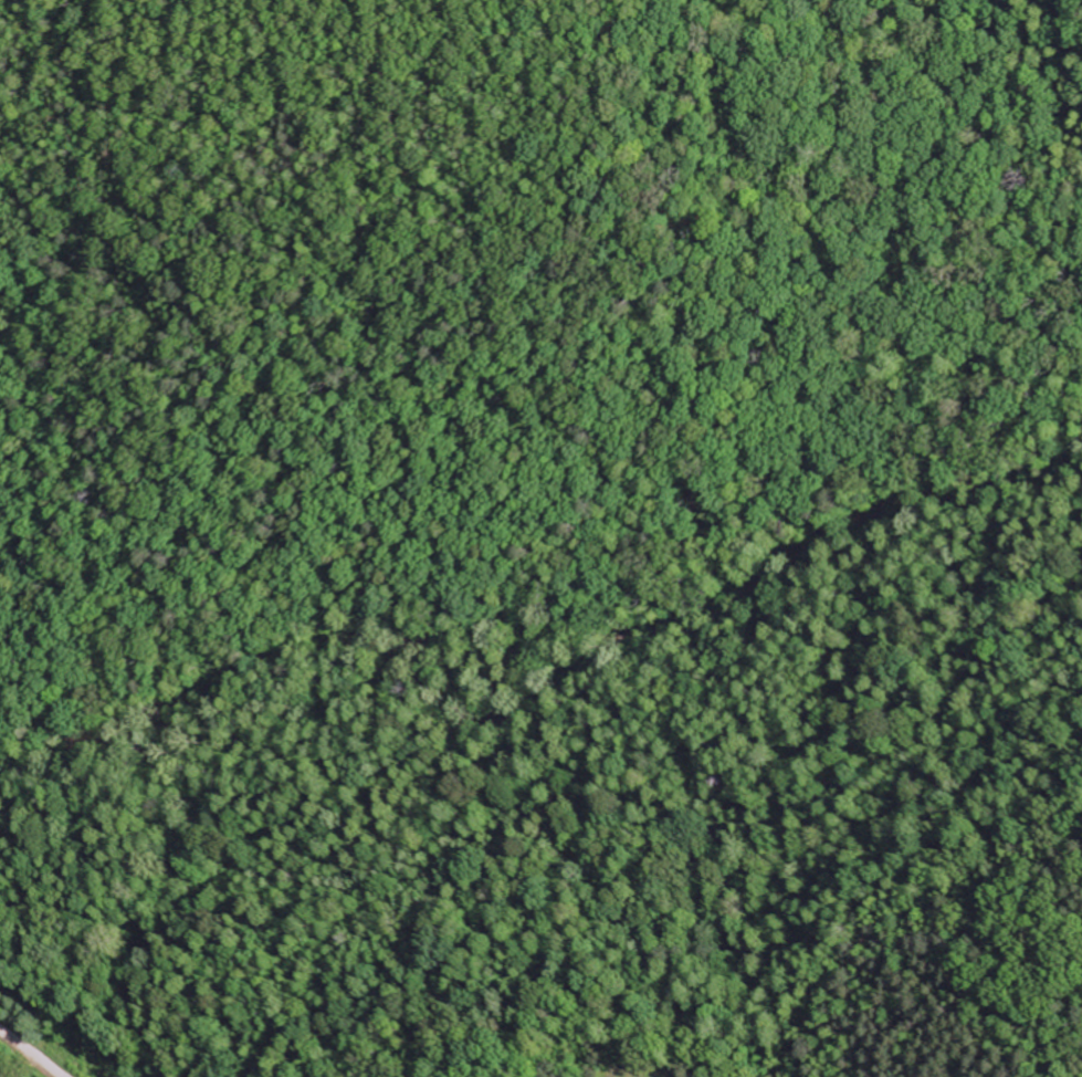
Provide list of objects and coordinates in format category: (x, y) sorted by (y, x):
road: (27, 1055)

